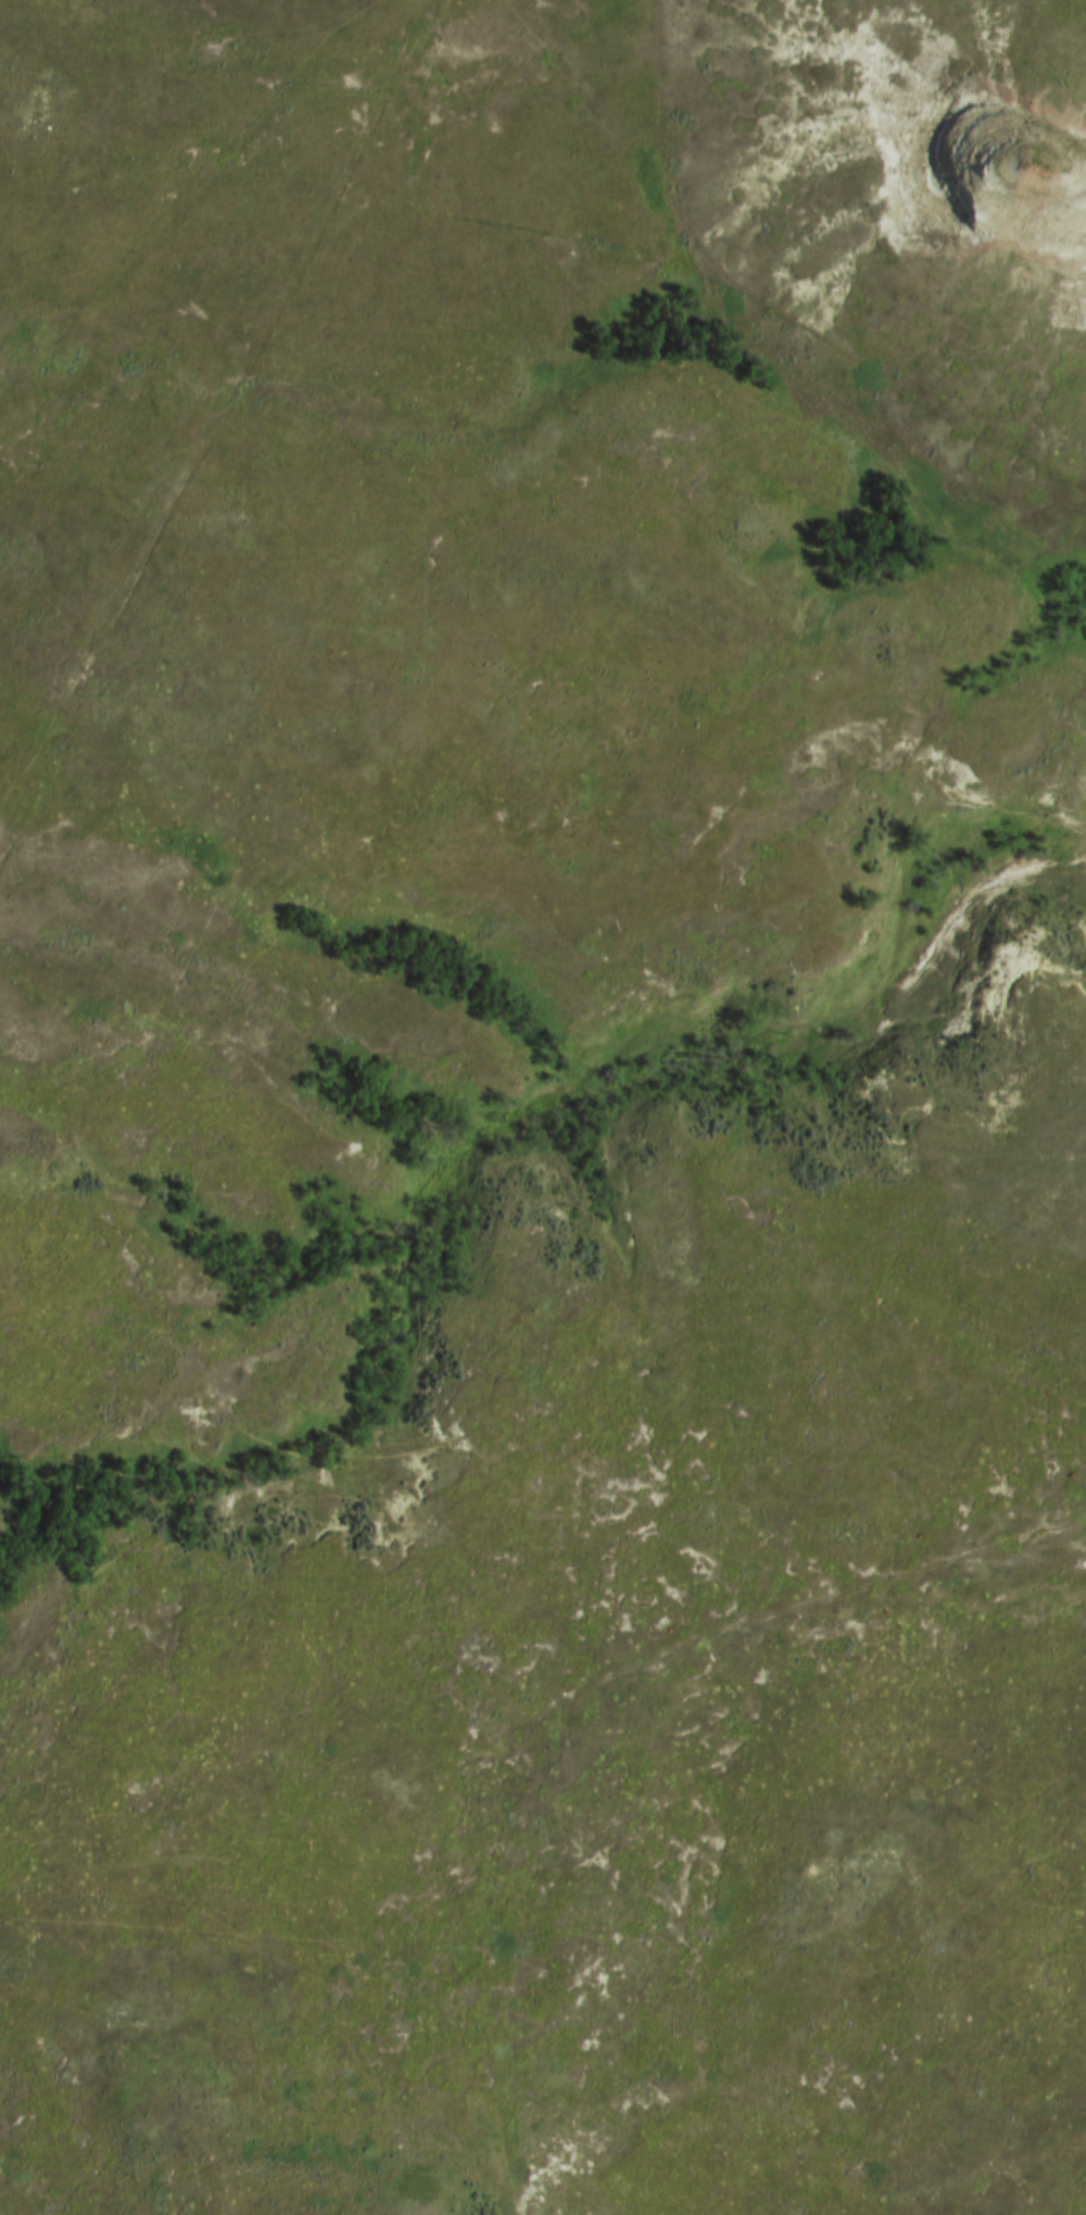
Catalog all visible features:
road: (428, 1)

